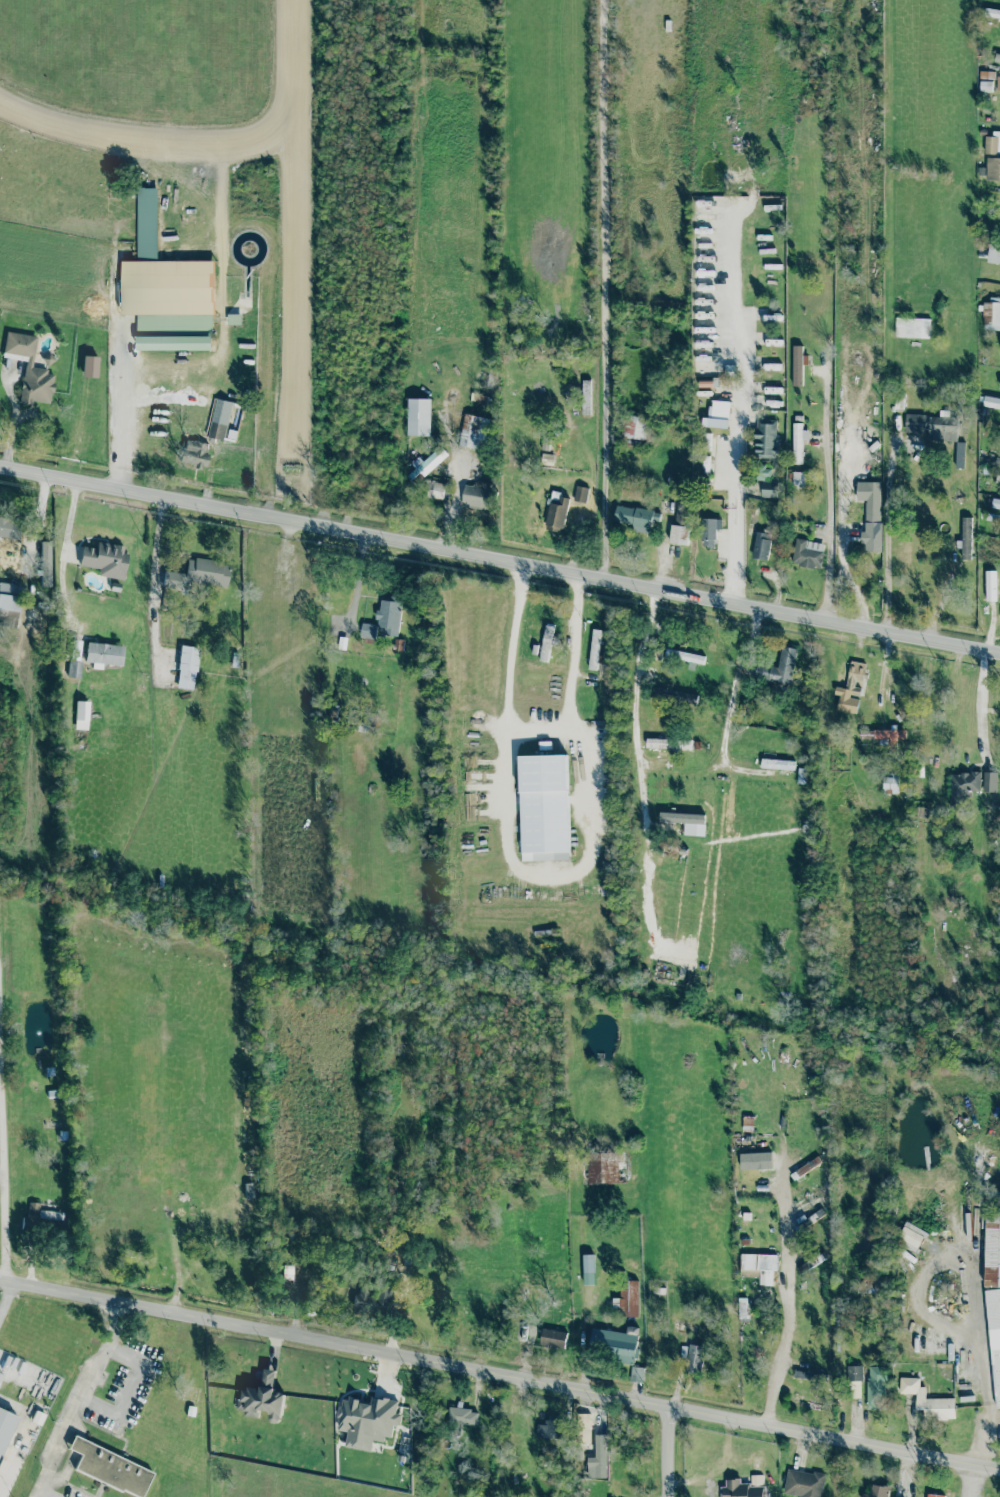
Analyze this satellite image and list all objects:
building: (997, 83)
building: (985, 86)
building: (992, 143)
building: (992, 169)
building: (994, 253)
building: (169, 288)
road: (603, 289)
building: (991, 314)
building: (912, 327)
building: (797, 364)
building: (89, 365)
building: (771, 366)
building: (28, 367)
building: (999, 383)
building: (771, 387)
building: (585, 397)
building: (991, 402)
road: (739, 404)
road: (120, 405)
building: (717, 415)
building: (419, 417)
building: (914, 424)
building: (941, 426)
building: (633, 427)
building: (216, 430)
building: (473, 431)
building: (765, 438)
building: (798, 441)
building: (194, 453)
building: (959, 454)
building: (429, 461)
building: (797, 478)
building: (997, 479)
building: (438, 490)
building: (767, 490)
building: (580, 494)
building: (477, 495)
road: (829, 496)
building: (995, 504)
building: (557, 514)
building: (870, 514)
building: (636, 517)
building: (679, 522)
building: (8, 529)
building: (709, 531)
road: (885, 537)
building: (965, 537)
road: (154, 542)
building: (760, 545)
building: (807, 553)
building: (105, 558)
road: (499, 559)
road: (61, 560)
building: (45, 562)
building: (196, 574)
building: (990, 585)
building: (9, 604)
building: (384, 619)
building: (546, 643)
building: (594, 649)
building: (103, 653)
building: (685, 656)
building: (187, 666)
building: (778, 667)
building: (73, 668)
building: (855, 678)
building: (679, 696)
road: (981, 705)
road: (726, 706)
road: (633, 708)
building: (81, 714)
road: (533, 726)
building: (888, 736)
building: (668, 743)
building: (544, 745)
building: (777, 764)
building: (989, 781)
building: (890, 784)
building: (962, 786)
building: (545, 803)
building: (686, 822)
road: (549, 875)
road: (1, 1045)
building: (603, 1165)
building: (806, 1167)
road: (6, 1177)
building: (991, 1248)
building: (758, 1266)
building: (588, 1269)
building: (286, 1271)
road: (7, 1297)
building: (627, 1298)
road: (791, 1298)
building: (742, 1307)
building: (553, 1338)
building: (994, 1339)
building: (615, 1343)
building: (694, 1358)
road: (499, 1373)
building: (855, 1373)
building: (804, 1374)
road: (984, 1376)
building: (876, 1387)
road: (129, 1391)
building: (262, 1398)
road: (78, 1399)
building: (928, 1400)
building: (808, 1403)
building: (462, 1416)
building: (366, 1420)
building: (5, 1425)
building: (584, 1427)
building: (547, 1429)
building: (999, 1436)
road: (666, 1451)
building: (600, 1456)
building: (109, 1467)
road: (906, 1474)
road: (973, 1480)
building: (803, 1483)
building: (743, 1487)
building: (876, 1491)
road: (43, 1493)
building: (934, 1495)

